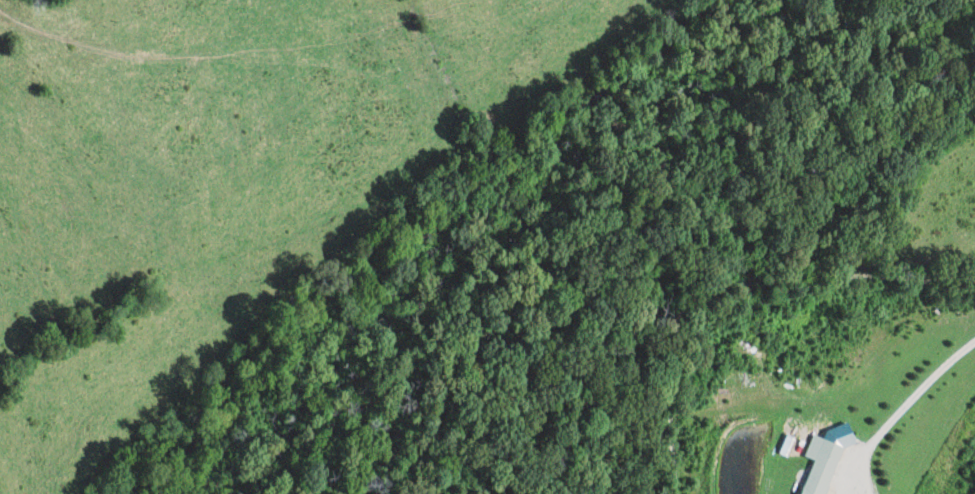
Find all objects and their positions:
road: (659, 346)
building: (820, 465)

